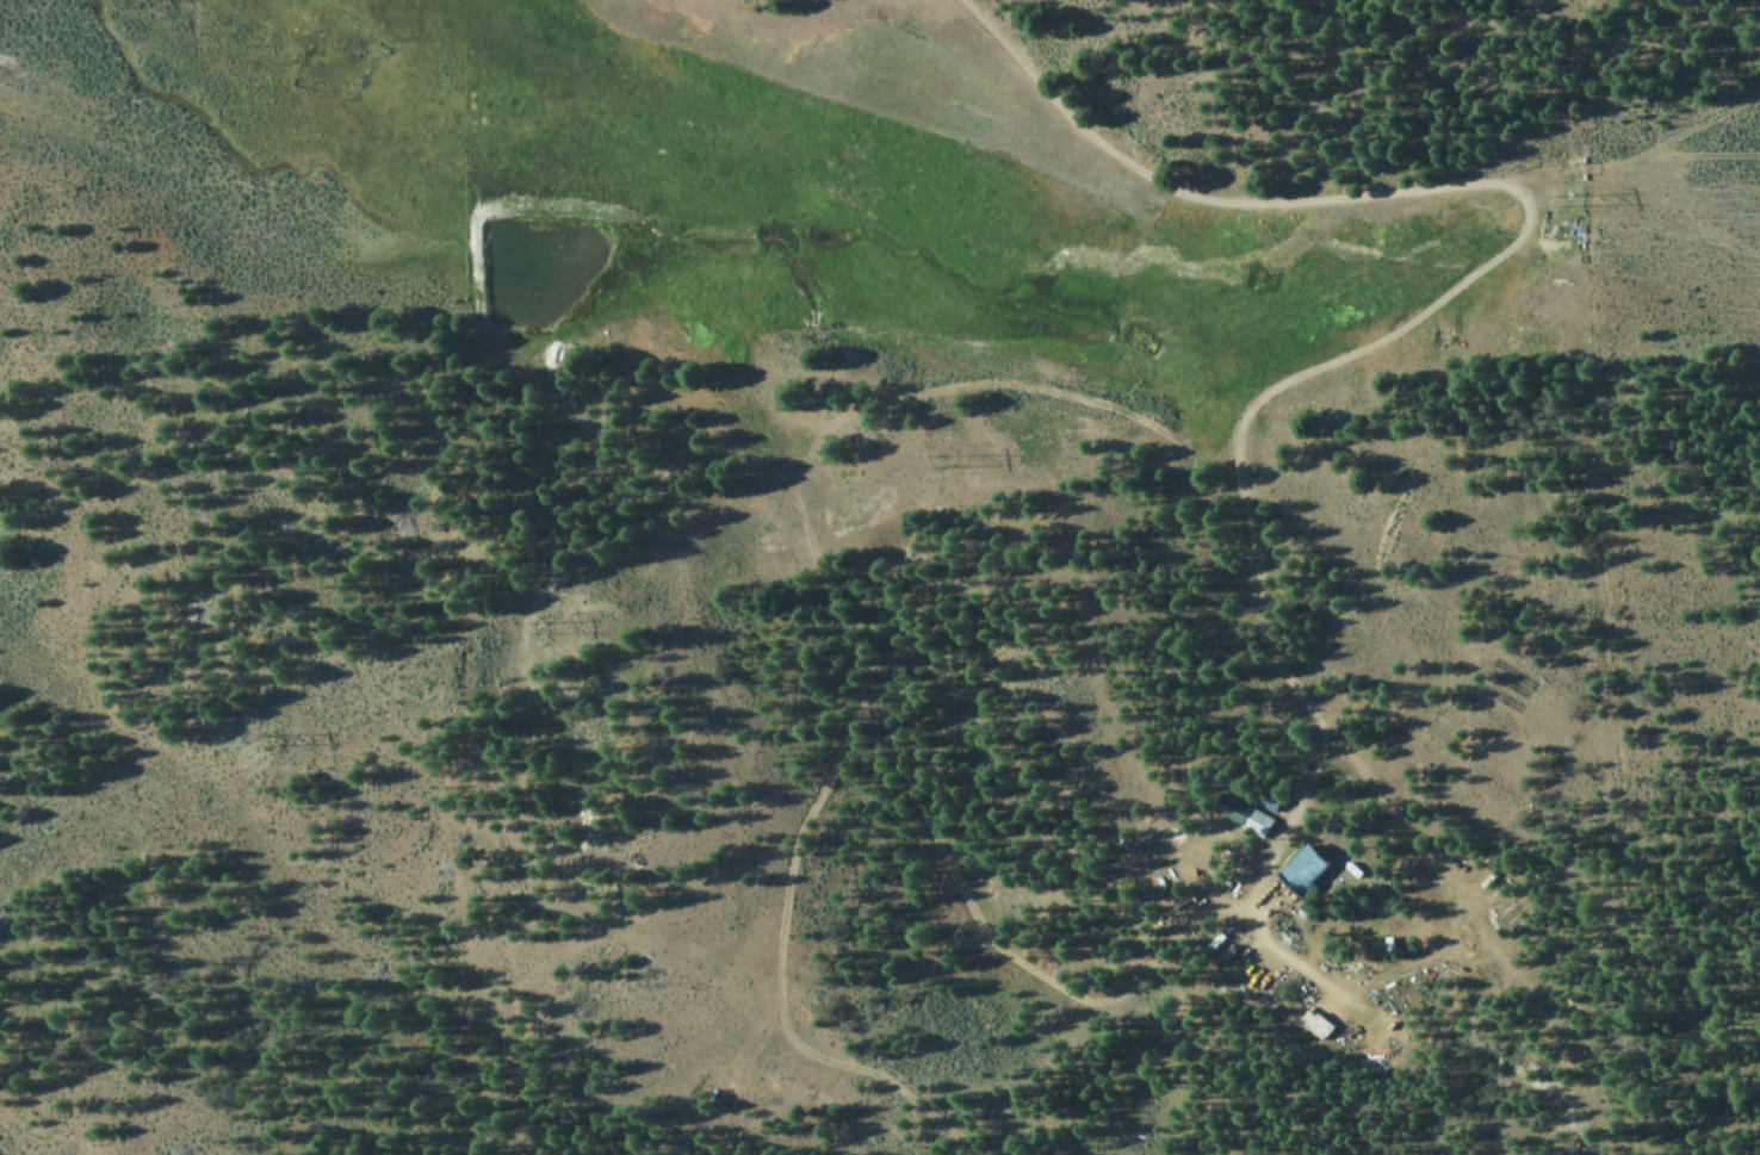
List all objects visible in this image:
road: (1022, 123)
power tower: (1561, 204)
power tower: (948, 470)
power tower: (541, 634)
power tower: (268, 745)
building: (1245, 818)
building: (1307, 874)

